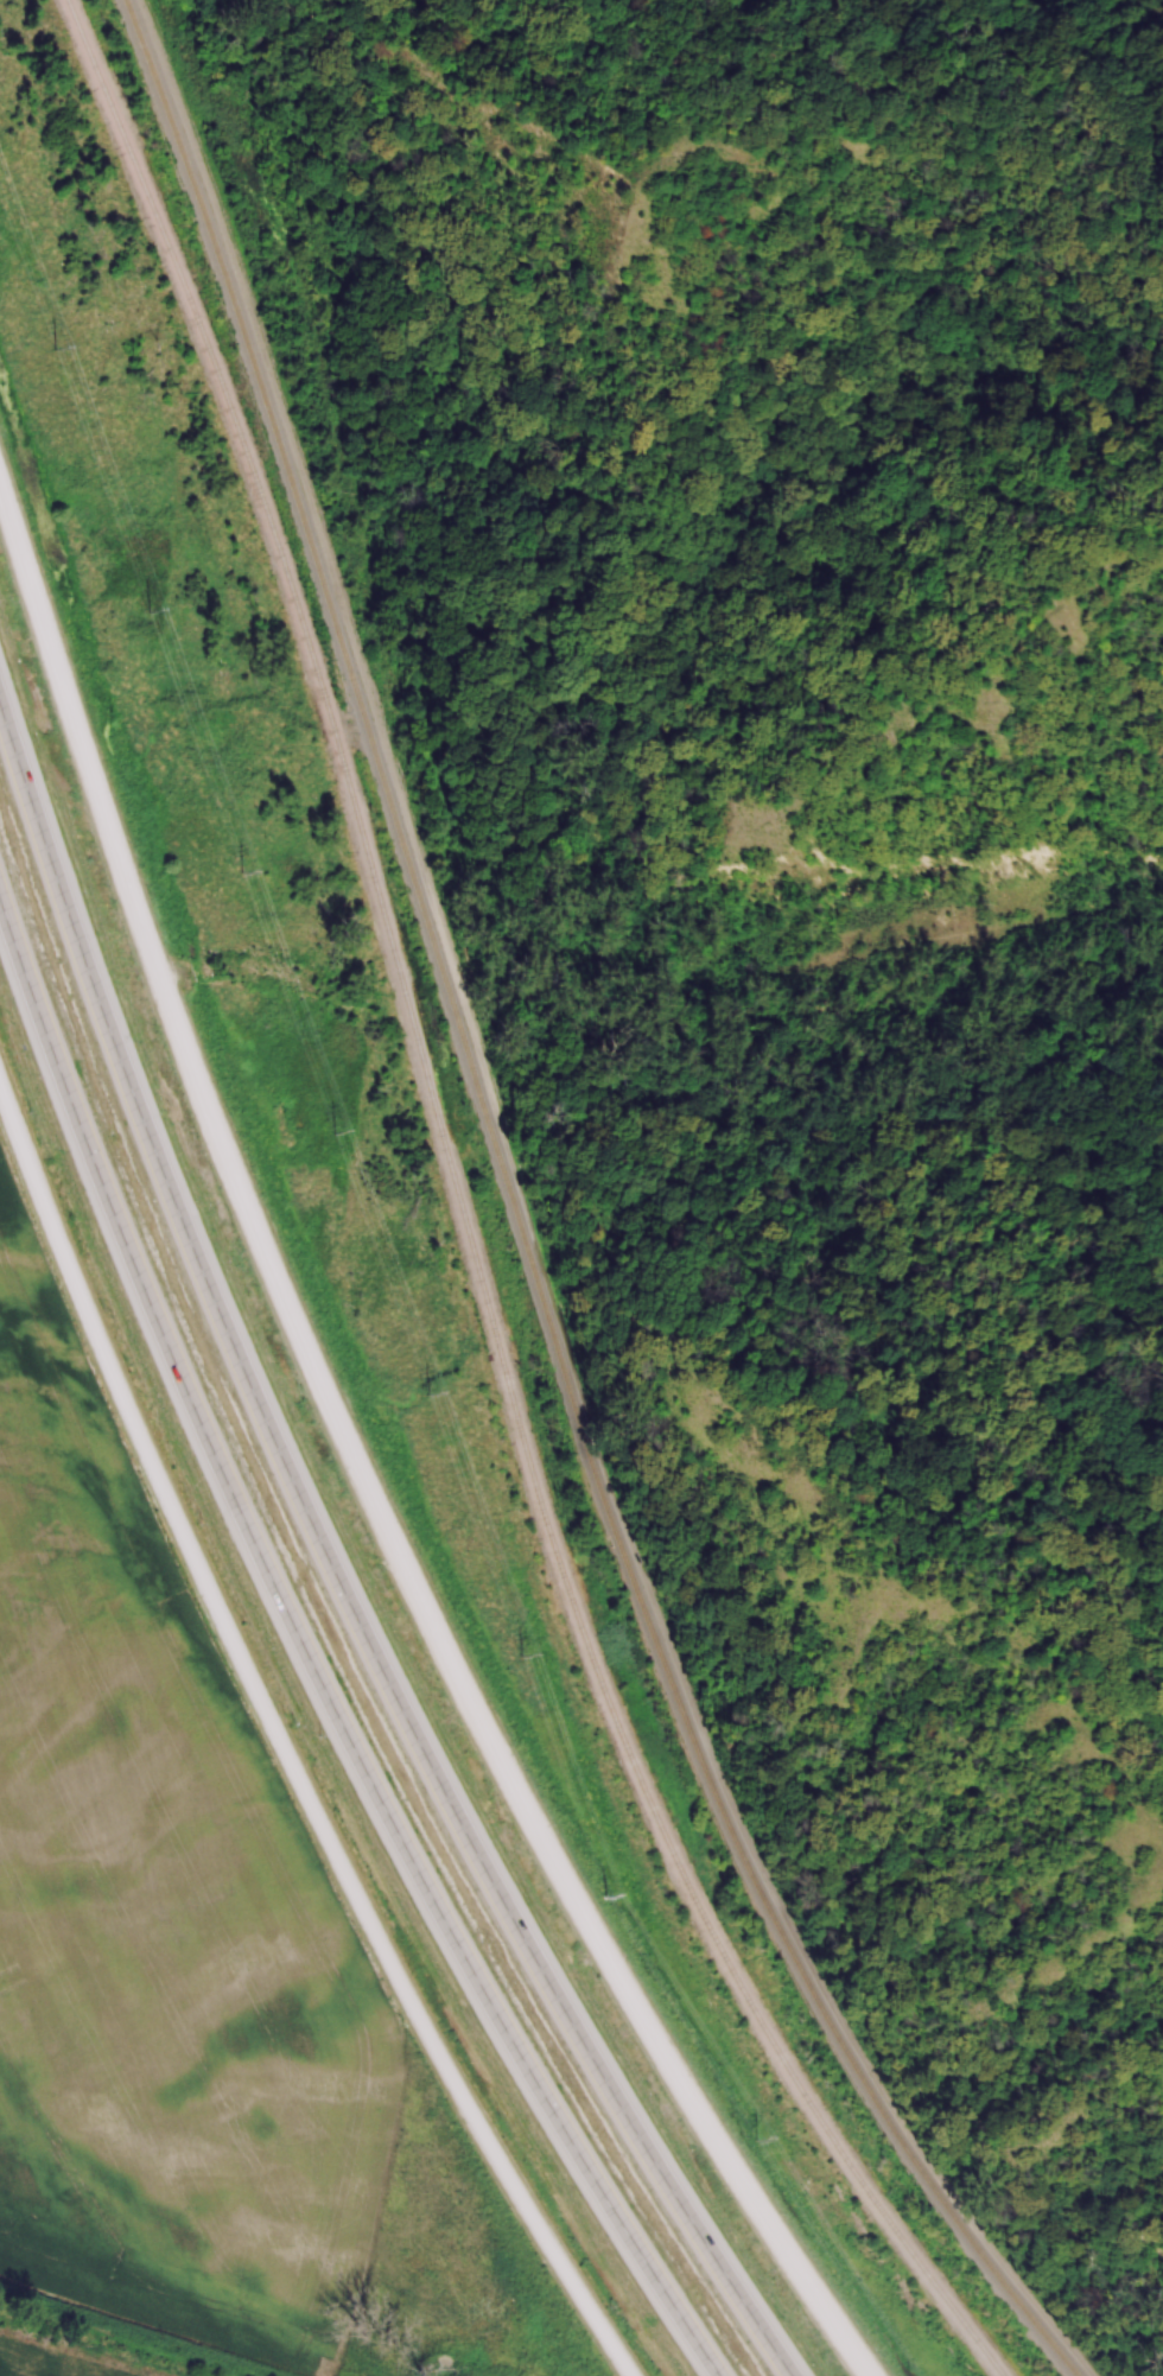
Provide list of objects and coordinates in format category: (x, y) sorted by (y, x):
power tower: (55, 351)
power tower: (151, 615)
power tower: (240, 872)
power tower: (333, 1132)
railway: (464, 1221)
railway: (525, 1225)
power tower: (430, 1393)
road: (357, 1469)
road: (333, 1568)
power tower: (521, 1654)
road: (310, 1665)
road: (282, 1747)
power tower: (604, 1897)
power tower: (756, 2141)

